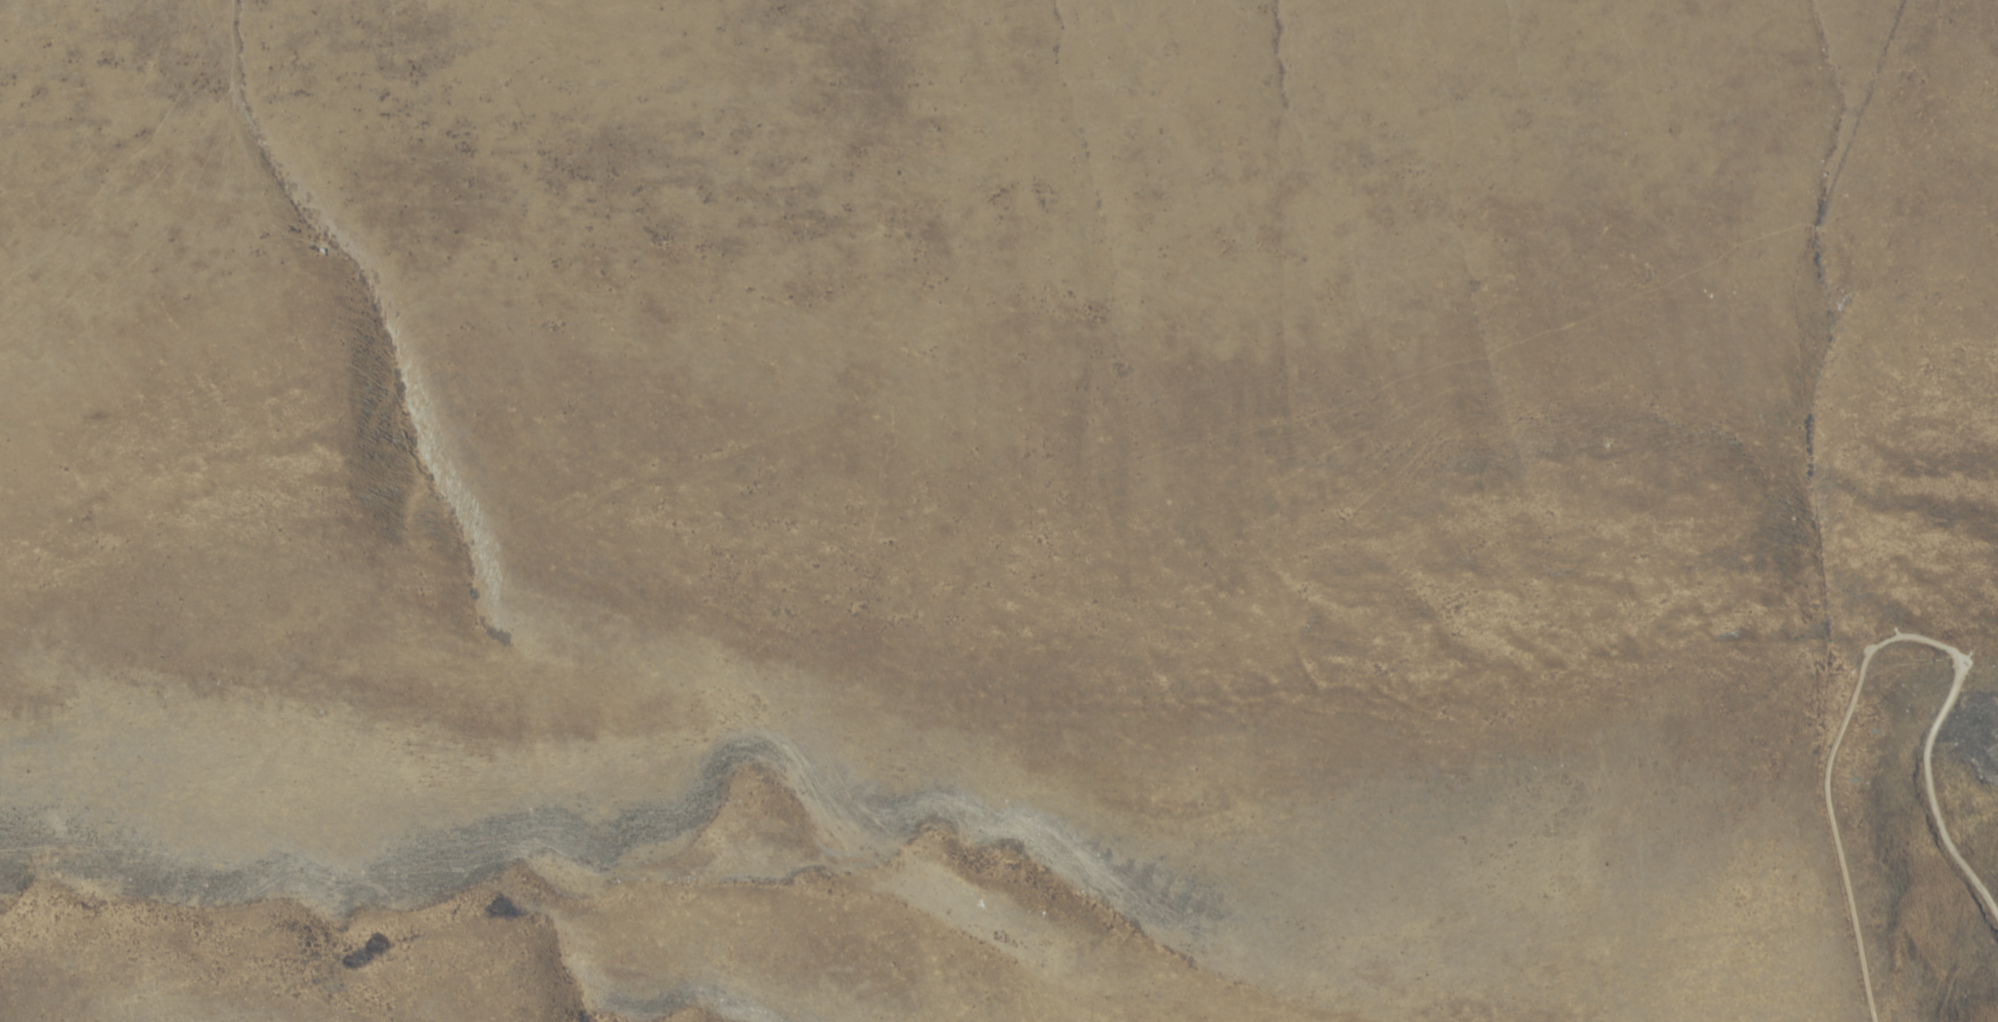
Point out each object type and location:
road: (1942, 717)
road: (1848, 861)

